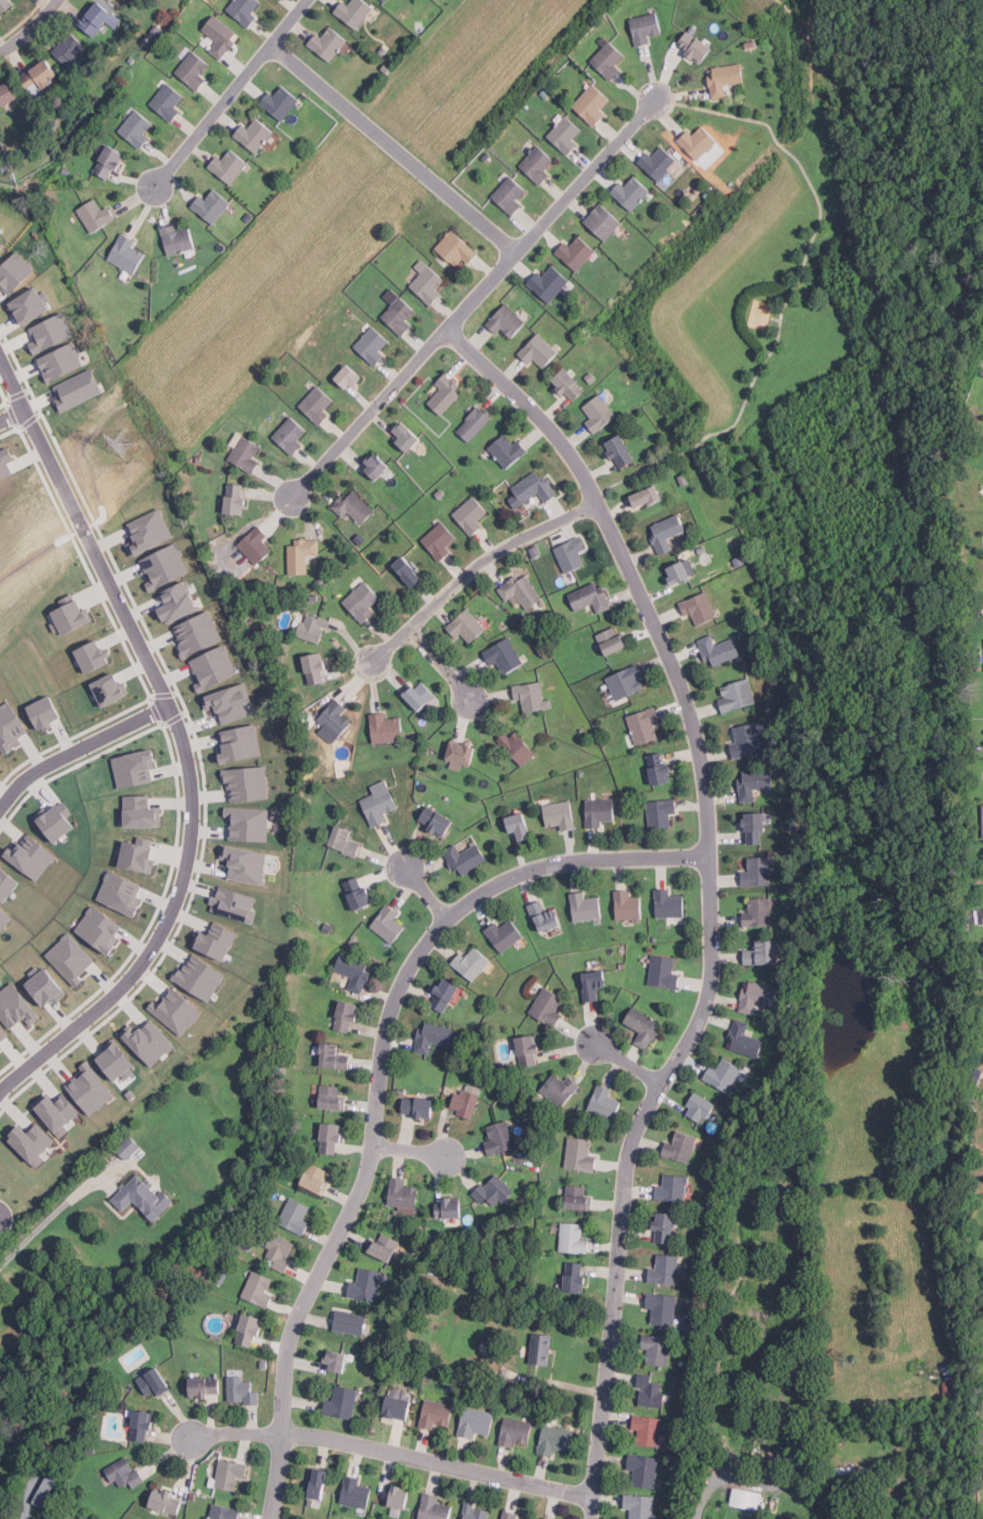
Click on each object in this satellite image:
building: (106, 0)
building: (382, 0)
building: (384, 0)
building: (113, 1)
building: (5, 4)
building: (245, 10)
building: (354, 11)
building: (96, 19)
building: (645, 27)
road: (30, 28)
building: (221, 36)
building: (328, 43)
building: (696, 45)
building: (69, 49)
building: (609, 60)
building: (194, 70)
building: (40, 76)
building: (726, 78)
road: (231, 93)
building: (8, 94)
building: (168, 102)
building: (280, 103)
building: (592, 104)
building: (136, 128)
building: (565, 134)
building: (254, 135)
building: (698, 141)
road: (393, 148)
building: (110, 162)
building: (659, 162)
building: (538, 164)
building: (228, 166)
building: (631, 191)
building: (510, 194)
building: (211, 206)
building: (96, 215)
building: (603, 221)
building: (177, 239)
building: (3, 247)
building: (456, 248)
building: (576, 252)
building: (126, 254)
building: (16, 272)
building: (428, 282)
building: (549, 283)
road: (475, 298)
building: (33, 305)
building: (399, 315)
building: (506, 321)
building: (53, 333)
building: (372, 345)
building: (539, 351)
building: (63, 361)
building: (349, 377)
building: (570, 385)
building: (80, 389)
building: (446, 394)
building: (317, 404)
road: (12, 415)
building: (598, 415)
building: (474, 424)
building: (291, 435)
building: (407, 436)
power tower: (126, 447)
building: (510, 451)
building: (622, 452)
building: (246, 454)
building: (369, 463)
building: (6, 465)
building: (377, 467)
building: (535, 487)
building: (647, 498)
building: (236, 499)
building: (353, 506)
building: (471, 515)
road: (83, 529)
building: (152, 532)
building: (667, 532)
building: (440, 542)
building: (255, 545)
road: (491, 553)
building: (301, 555)
building: (571, 555)
building: (168, 567)
building: (409, 572)
building: (679, 573)
building: (522, 591)
building: (591, 598)
building: (183, 601)
building: (363, 602)
building: (699, 609)
building: (74, 616)
building: (467, 626)
building: (313, 628)
building: (200, 634)
building: (612, 641)
road: (389, 647)
building: (719, 650)
building: (505, 656)
building: (97, 657)
road: (439, 664)
building: (310, 669)
building: (217, 670)
building: (627, 683)
building: (114, 689)
building: (421, 695)
building: (737, 695)
building: (532, 697)
building: (233, 703)
building: (47, 712)
building: (335, 718)
building: (645, 725)
building: (12, 728)
building: (386, 728)
building: (746, 740)
building: (243, 743)
building: (518, 747)
road: (80, 748)
building: (461, 754)
building: (0, 759)
building: (660, 768)
building: (137, 769)
building: (250, 783)
building: (755, 783)
building: (380, 806)
building: (599, 812)
building: (144, 813)
building: (661, 814)
building: (560, 815)
building: (981, 819)
building: (437, 821)
building: (59, 822)
building: (251, 824)
building: (519, 826)
building: (755, 829)
building: (345, 842)
building: (142, 854)
building: (32, 857)
building: (465, 858)
building: (248, 864)
building: (757, 872)
building: (9, 884)
building: (358, 892)
road: (426, 892)
building: (124, 893)
road: (710, 896)
building: (236, 904)
building: (668, 904)
building: (585, 907)
building: (628, 907)
building: (758, 912)
building: (544, 917)
building: (5, 919)
building: (388, 923)
road: (161, 926)
building: (326, 927)
building: (103, 930)
building: (504, 934)
building: (218, 941)
building: (773, 948)
building: (760, 953)
building: (74, 959)
building: (472, 962)
building: (354, 971)
building: (664, 972)
building: (201, 978)
building: (593, 984)
building: (49, 987)
building: (440, 995)
building: (758, 995)
building: (18, 1007)
building: (548, 1007)
building: (179, 1011)
building: (346, 1016)
building: (643, 1026)
building: (3, 1034)
building: (433, 1036)
building: (744, 1040)
building: (151, 1042)
building: (528, 1049)
building: (333, 1056)
building: (119, 1062)
road: (630, 1066)
building: (723, 1074)
road: (379, 1081)
building: (559, 1087)
building: (94, 1089)
building: (332, 1096)
building: (466, 1100)
building: (605, 1103)
building: (419, 1104)
building: (699, 1107)
building: (60, 1112)
building: (331, 1137)
building: (500, 1138)
building: (35, 1143)
building: (129, 1146)
building: (680, 1147)
road: (415, 1152)
building: (581, 1153)
building: (316, 1177)
building: (672, 1188)
building: (492, 1191)
building: (402, 1194)
building: (142, 1195)
building: (578, 1196)
building: (449, 1208)
building: (295, 1215)
road: (45, 1221)
building: (665, 1227)
building: (573, 1237)
building: (384, 1246)
building: (280, 1253)
building: (664, 1270)
building: (221, 1273)
building: (576, 1276)
building: (366, 1284)
building: (258, 1288)
building: (662, 1308)
building: (350, 1322)
building: (131, 1327)
building: (250, 1330)
building: (541, 1349)
building: (656, 1349)
building: (337, 1361)
building: (154, 1382)
building: (206, 1387)
building: (242, 1391)
building: (651, 1392)
building: (342, 1402)
building: (399, 1407)
building: (435, 1414)
building: (476, 1421)
building: (142, 1425)
building: (647, 1429)
building: (516, 1431)
building: (555, 1440)
road: (395, 1455)
building: (643, 1470)
building: (52, 1471)
building: (228, 1472)
building: (124, 1473)
building: (319, 1483)
building: (41, 1490)
building: (356, 1492)
building: (400, 1497)
building: (747, 1498)
building: (158, 1501)
building: (640, 1506)
road: (702, 1507)
building: (434, 1508)
building: (224, 1512)
building: (392, 1512)
building: (476, 1512)
building: (509, 1514)
building: (60, 1517)
building: (538, 1518)
building: (543, 1518)

